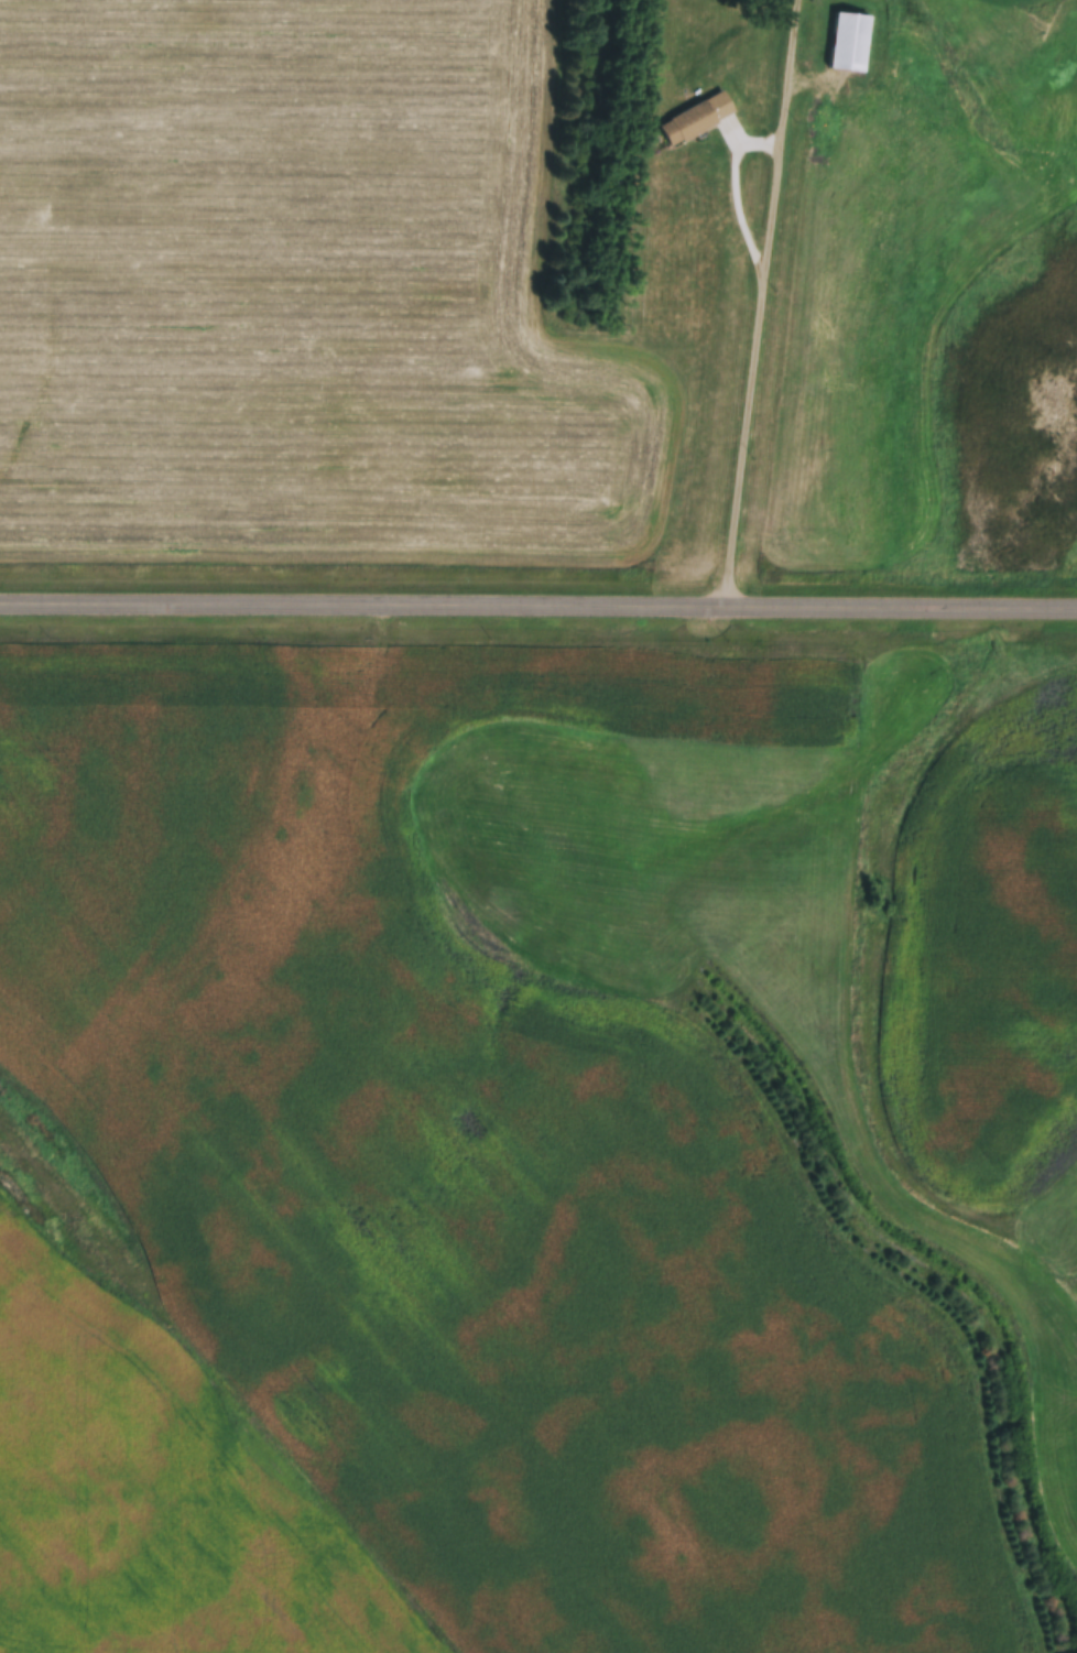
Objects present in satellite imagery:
building: (847, 42)
building: (695, 120)
road: (760, 300)
road: (538, 600)

